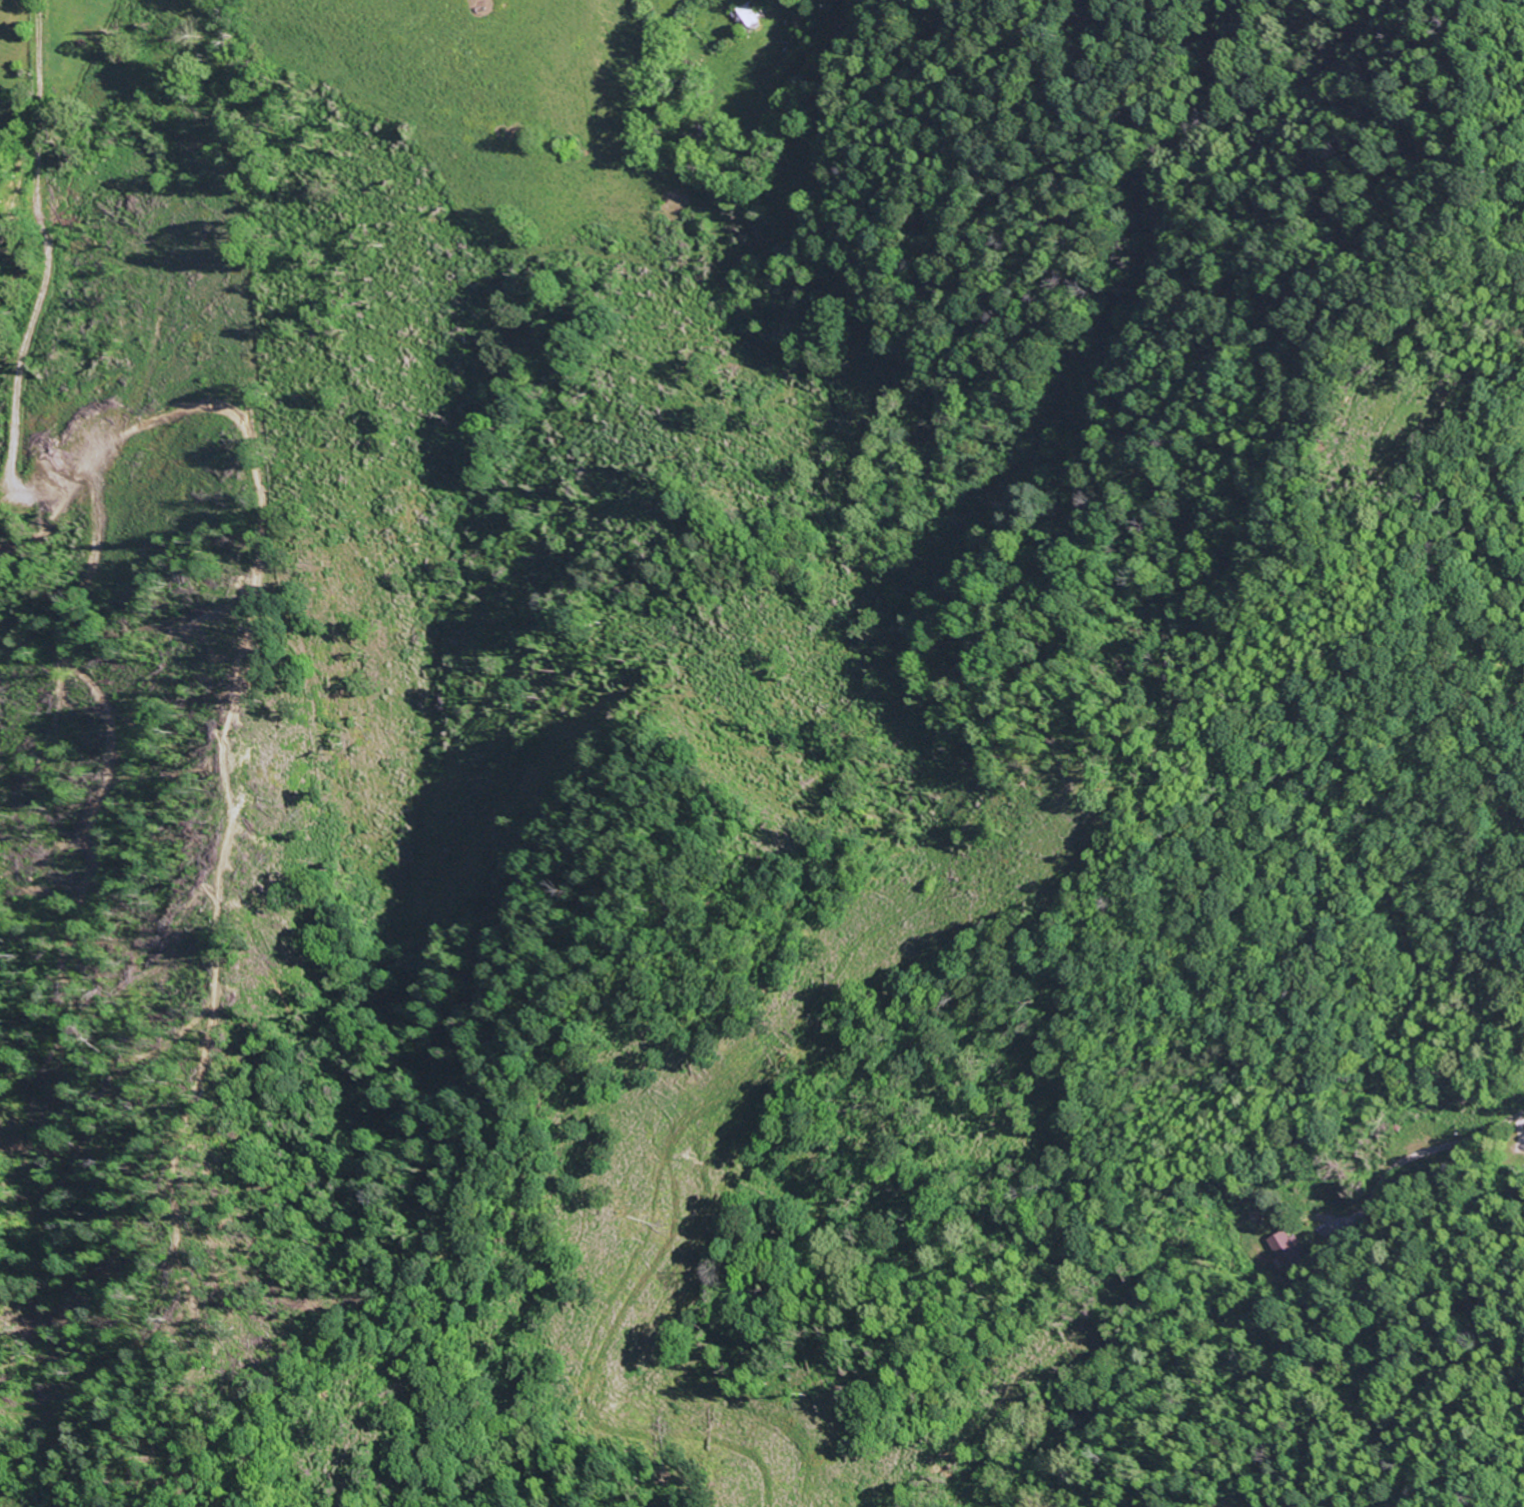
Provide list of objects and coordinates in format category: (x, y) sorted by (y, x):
building: (752, 13)
building: (1283, 1248)

